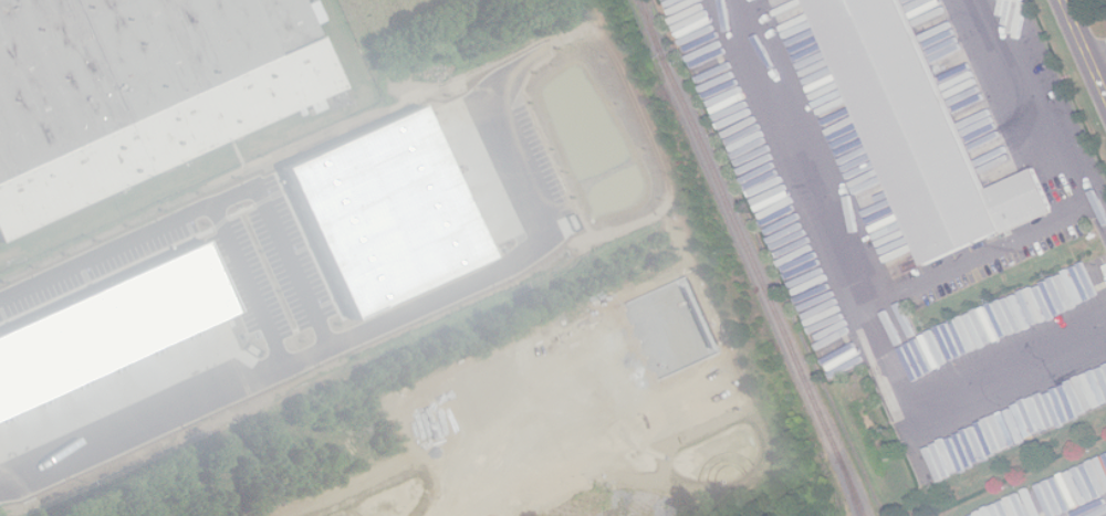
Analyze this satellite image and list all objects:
railway: (654, 30)
road: (1085, 45)
road: (1098, 53)
building: (138, 91)
building: (922, 133)
road: (796, 150)
road: (1100, 200)
road: (1087, 201)
railway: (751, 257)
road: (310, 297)
road: (954, 392)
railway: (849, 488)

